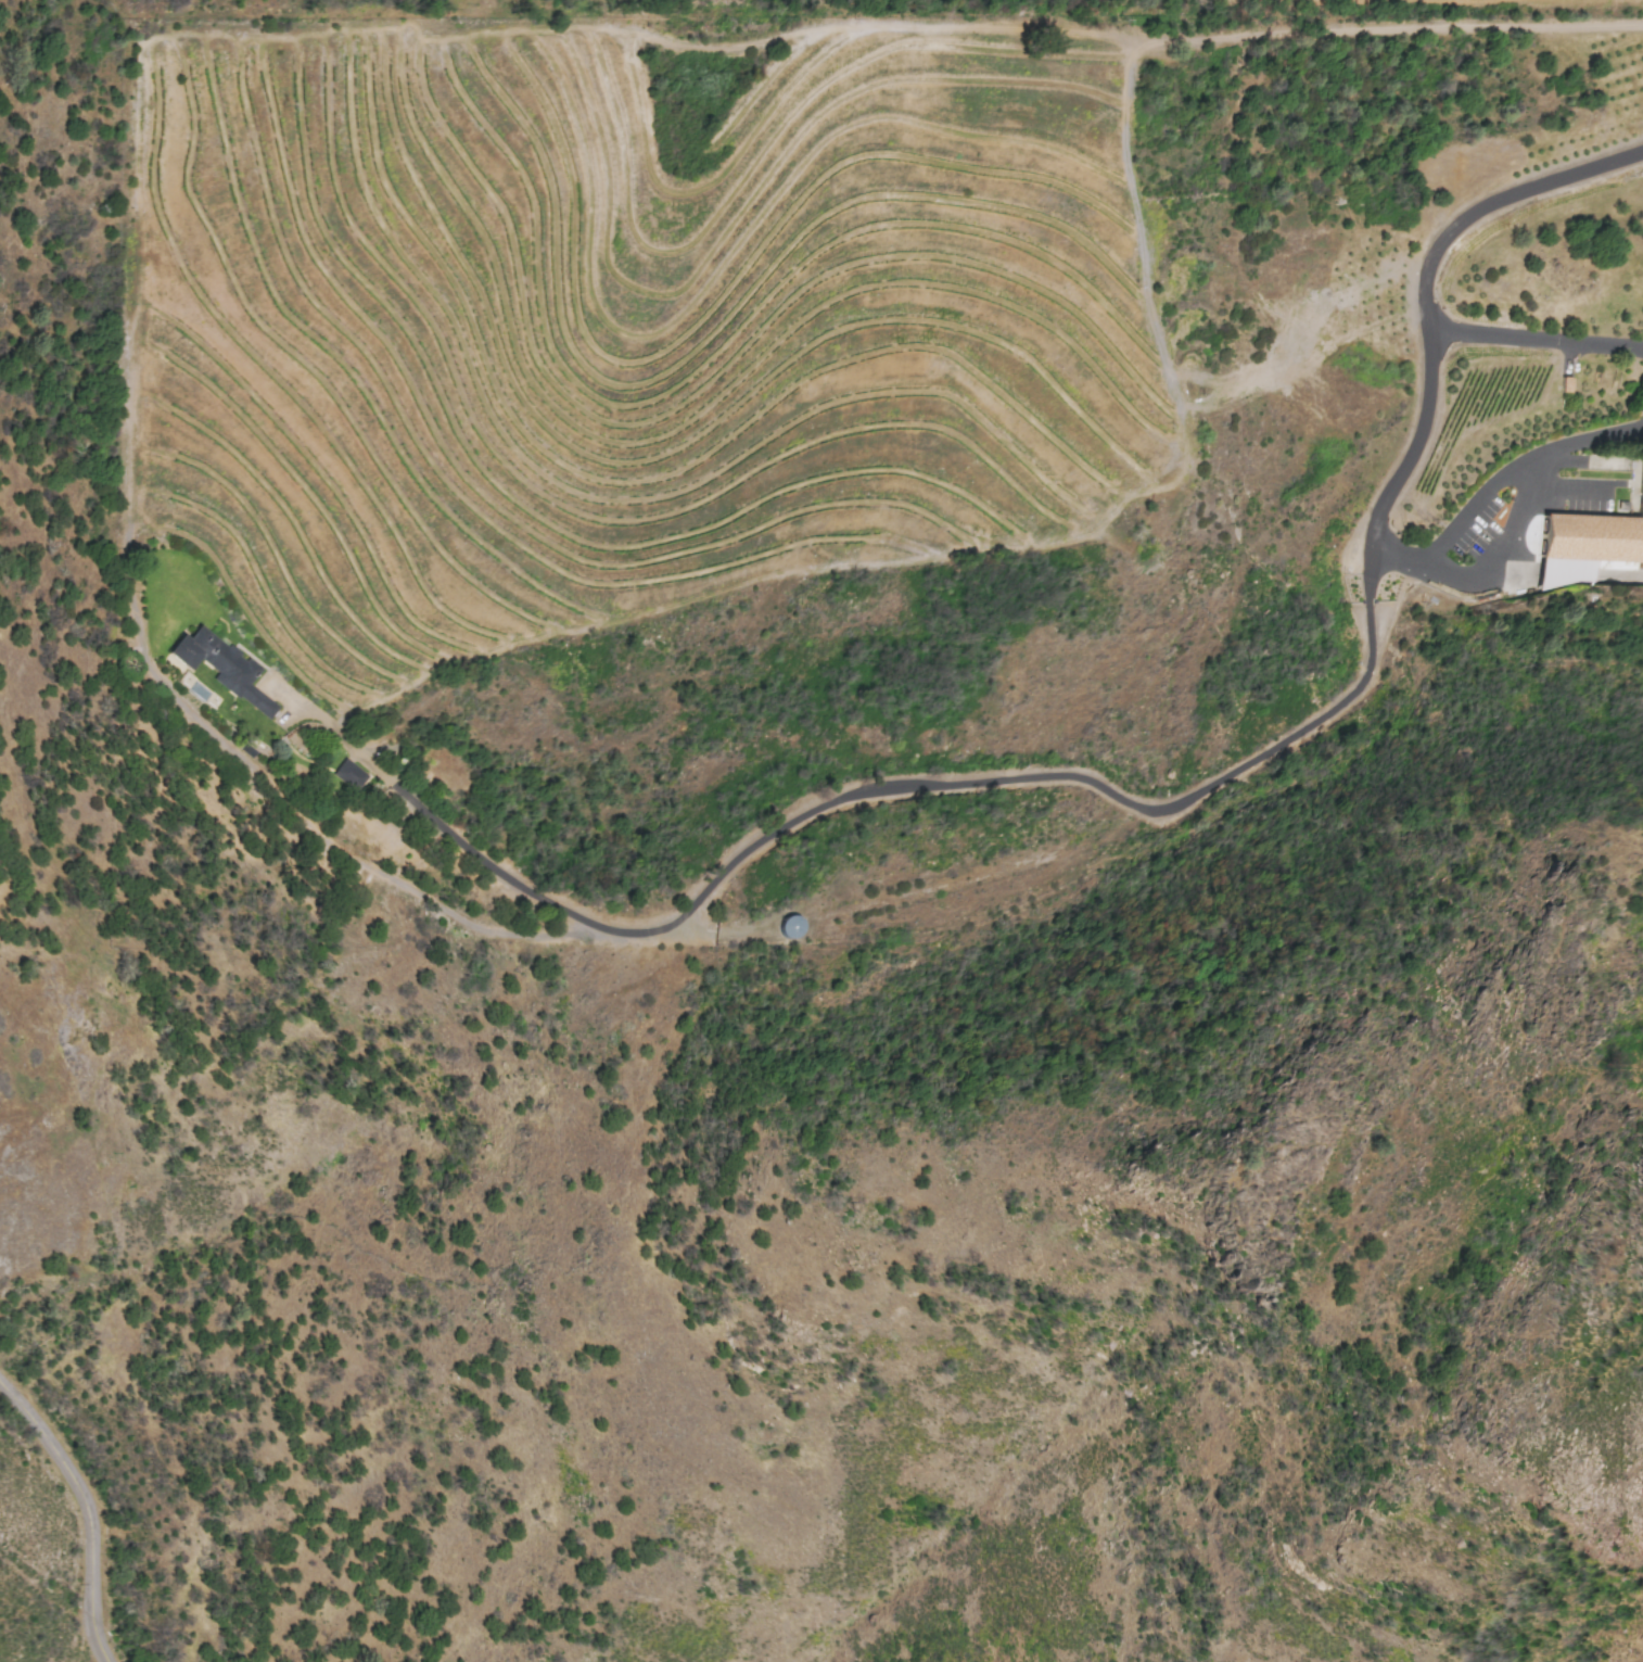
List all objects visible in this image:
road: (1494, 204)
road: (1536, 339)
road: (1474, 505)
building: (1585, 543)
road: (1430, 570)
building: (220, 668)
building: (347, 775)
road: (897, 789)
building: (789, 928)
road: (85, 1511)

